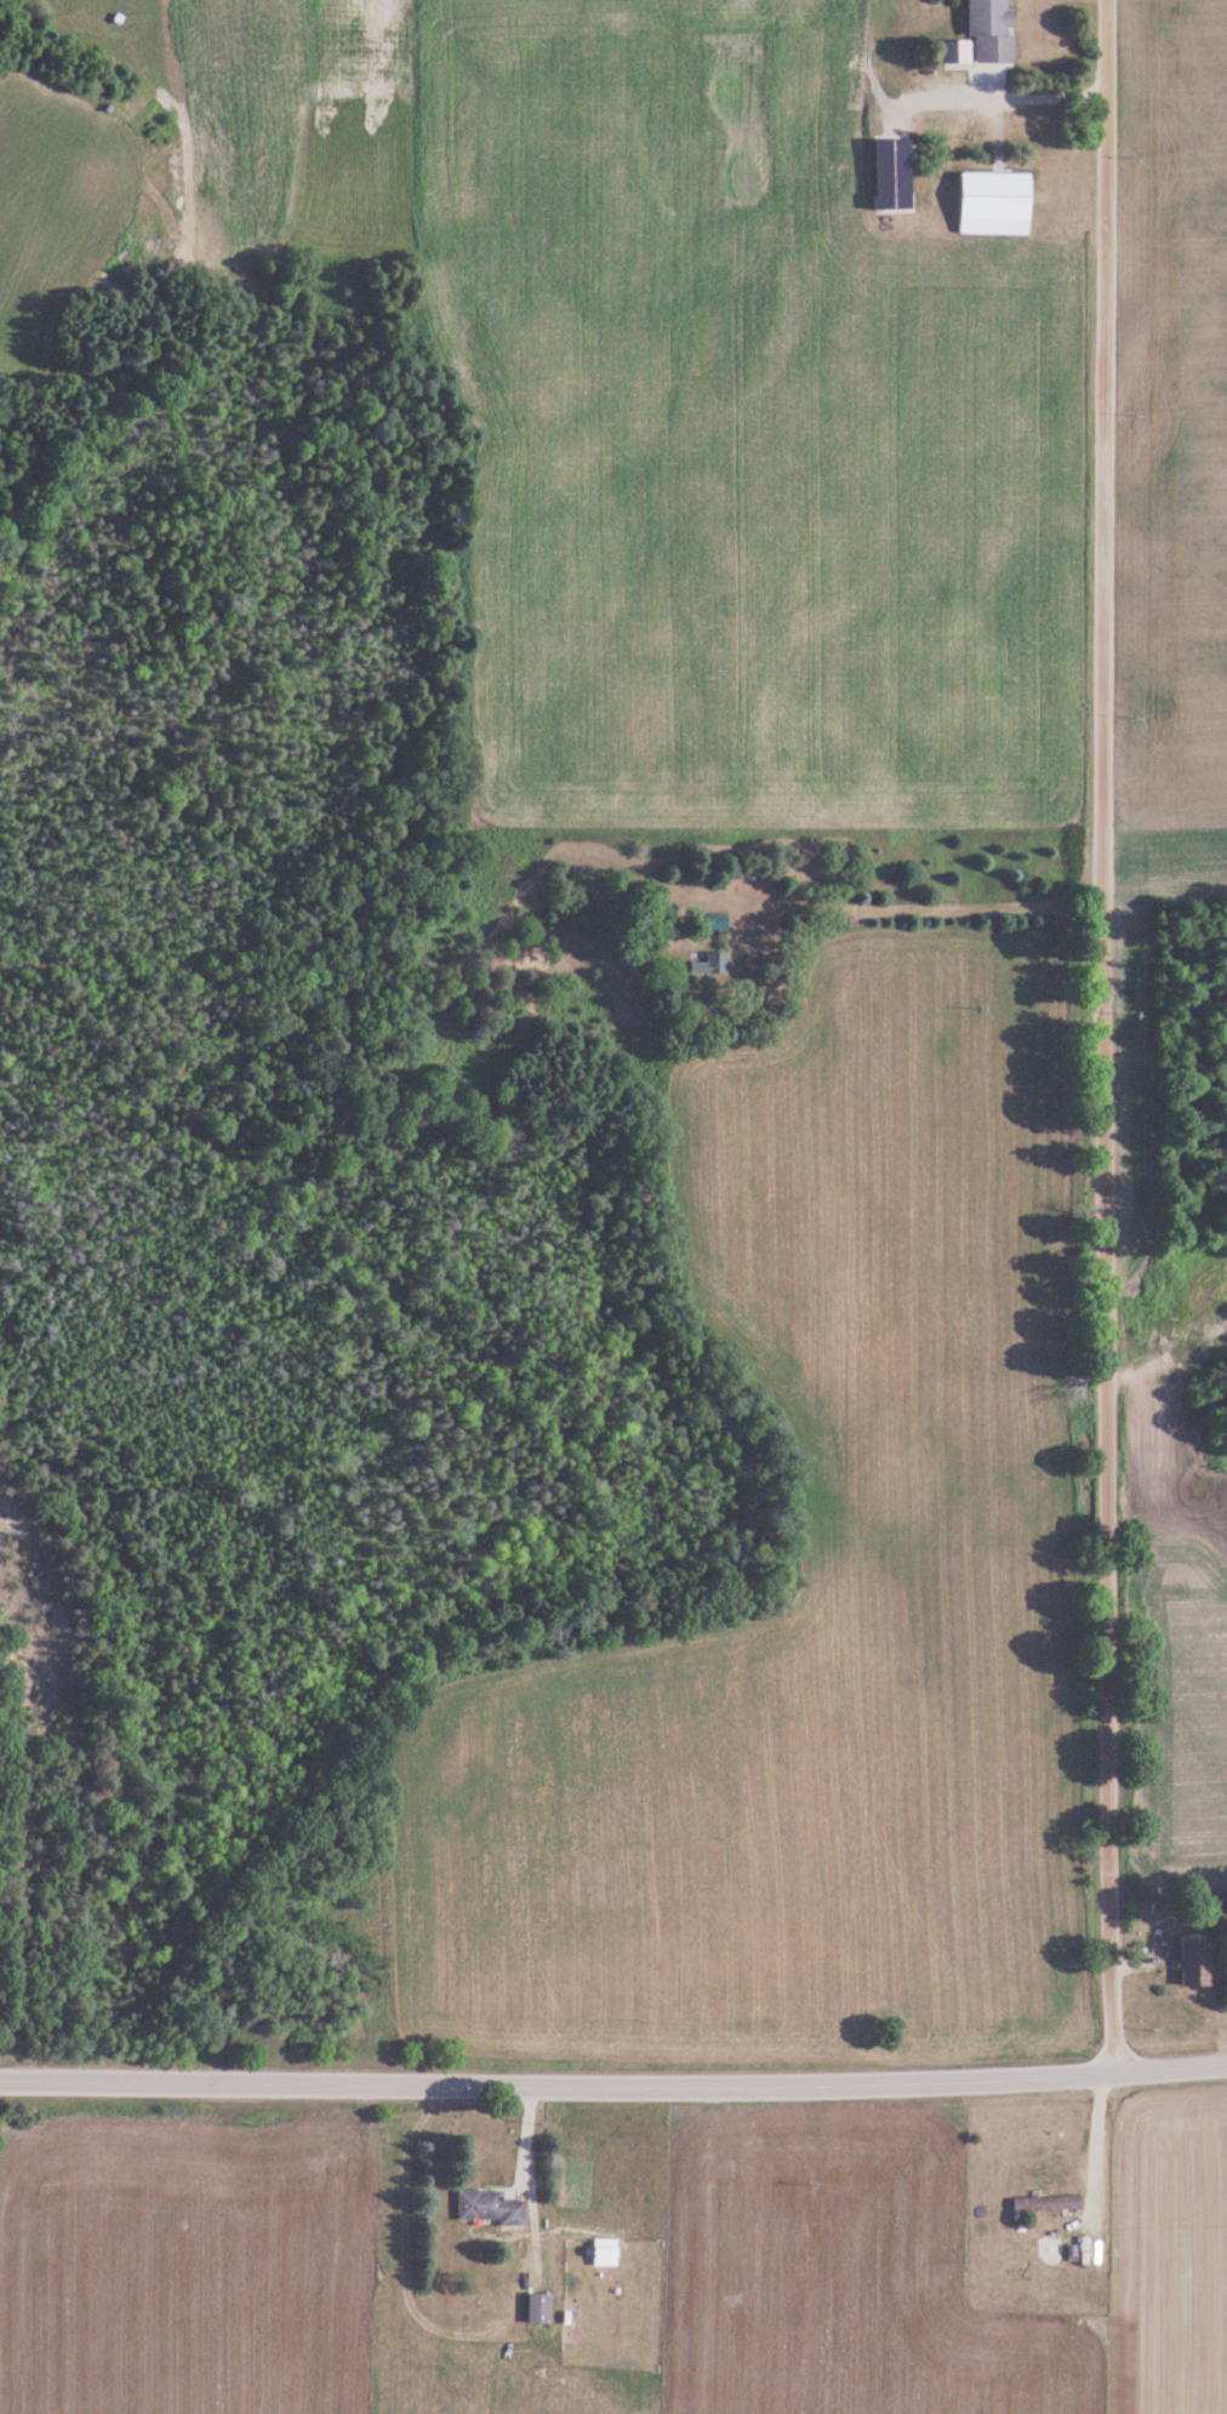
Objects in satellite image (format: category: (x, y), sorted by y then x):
building: (989, 30)
building: (955, 52)
building: (992, 196)
building: (714, 921)
building: (710, 964)
road: (1105, 1037)
park: (0, 1697)
building: (1195, 1961)
road: (613, 2083)
building: (1049, 2203)
building: (489, 2208)
building: (537, 2307)

